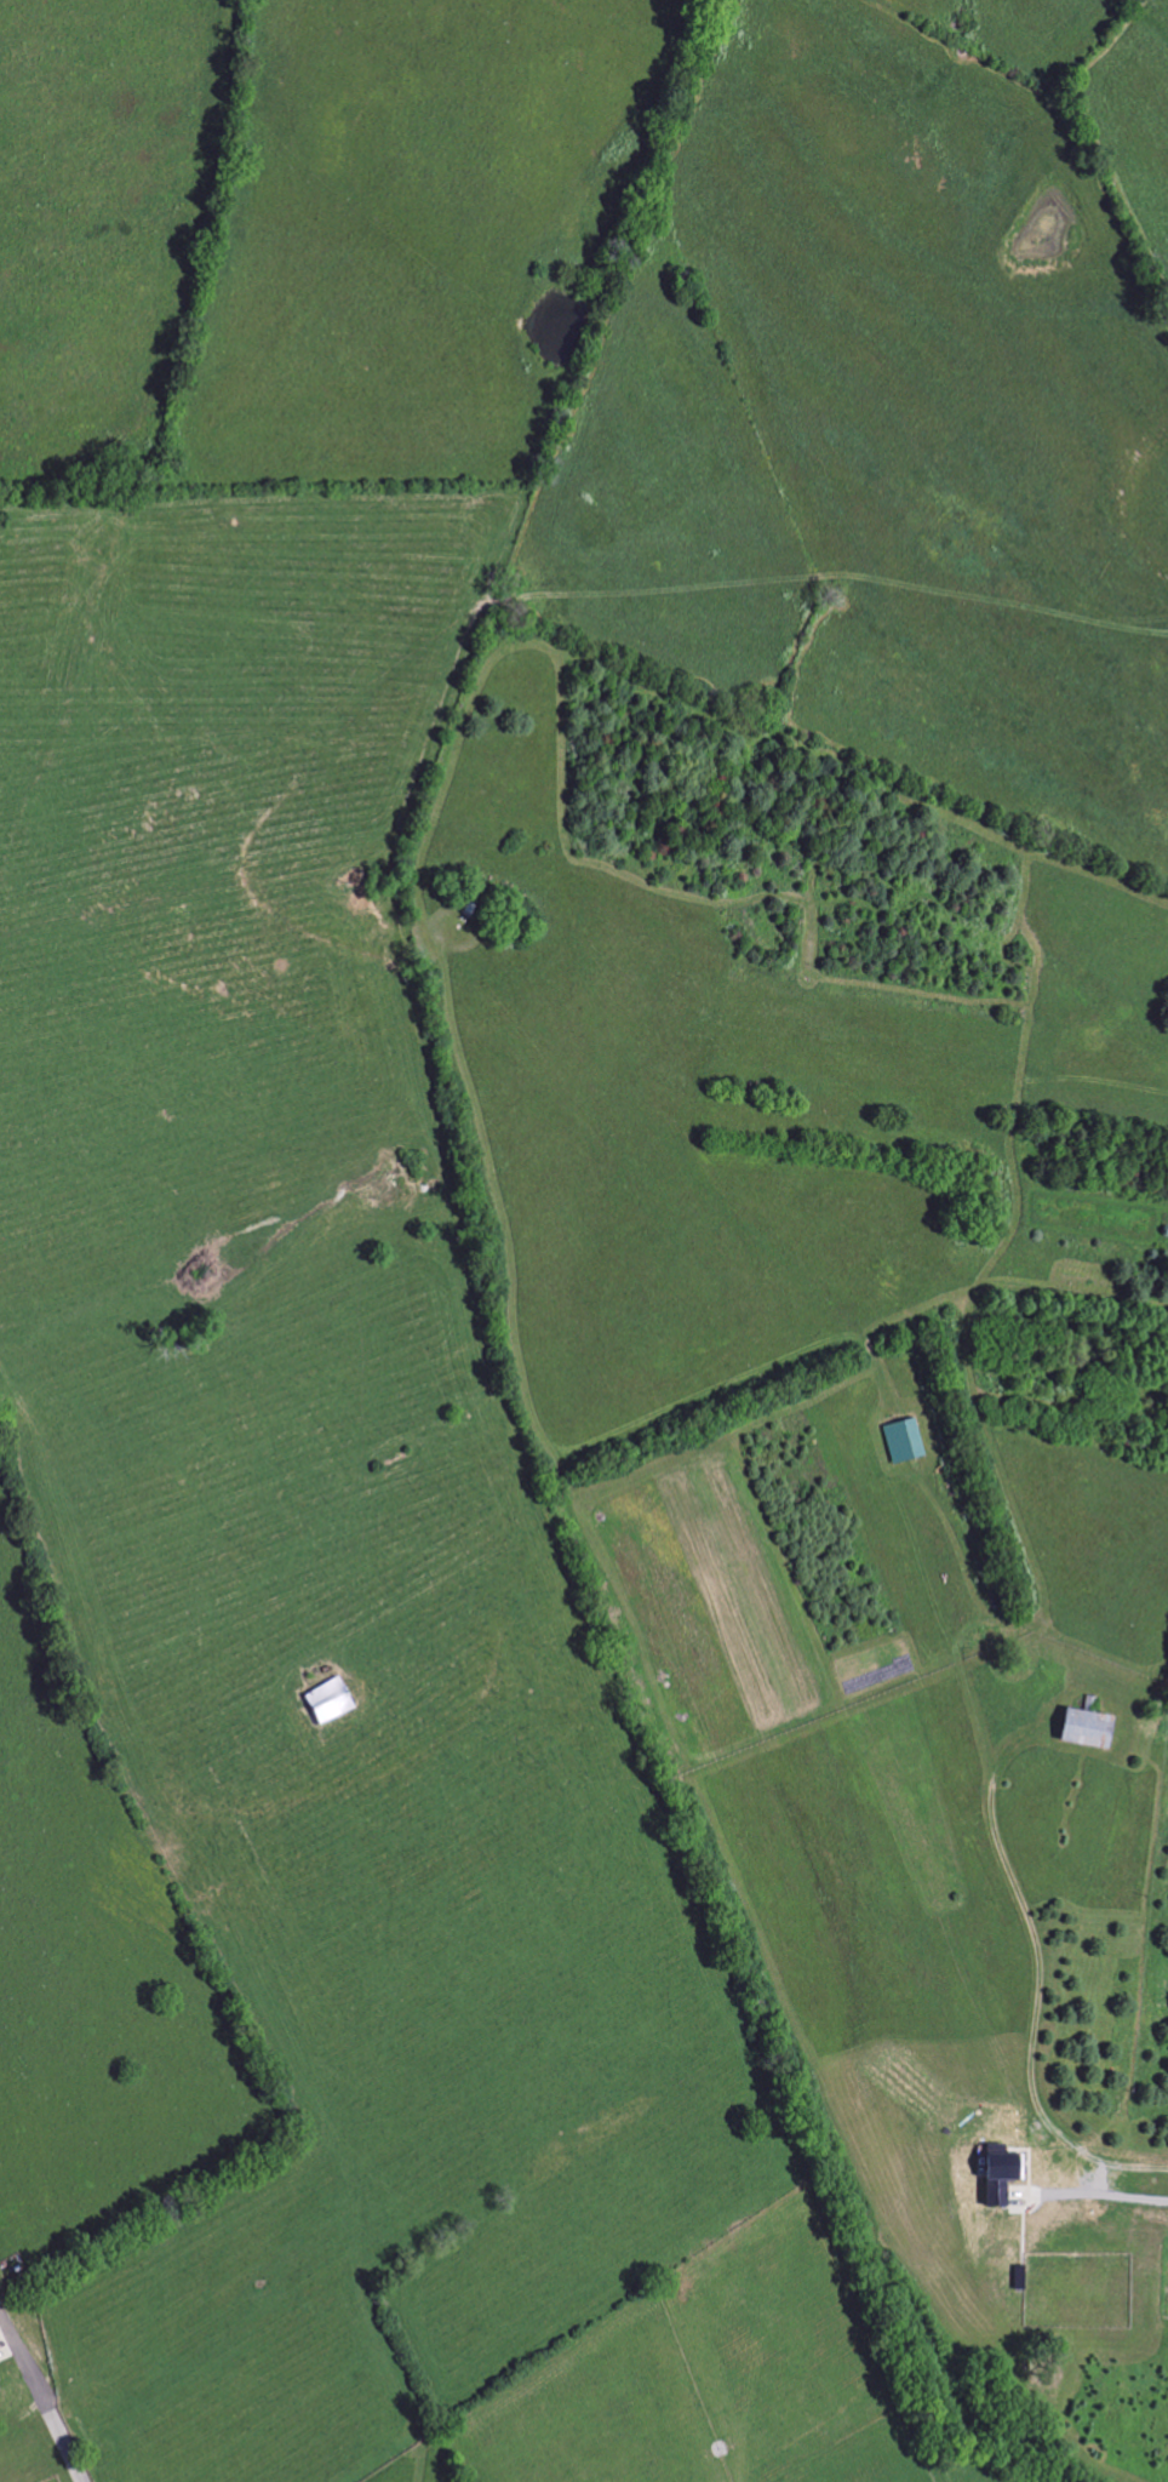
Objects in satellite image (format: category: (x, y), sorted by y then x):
building: (325, 1702)
building: (1082, 1728)
road: (1035, 1990)
road: (41, 2403)

